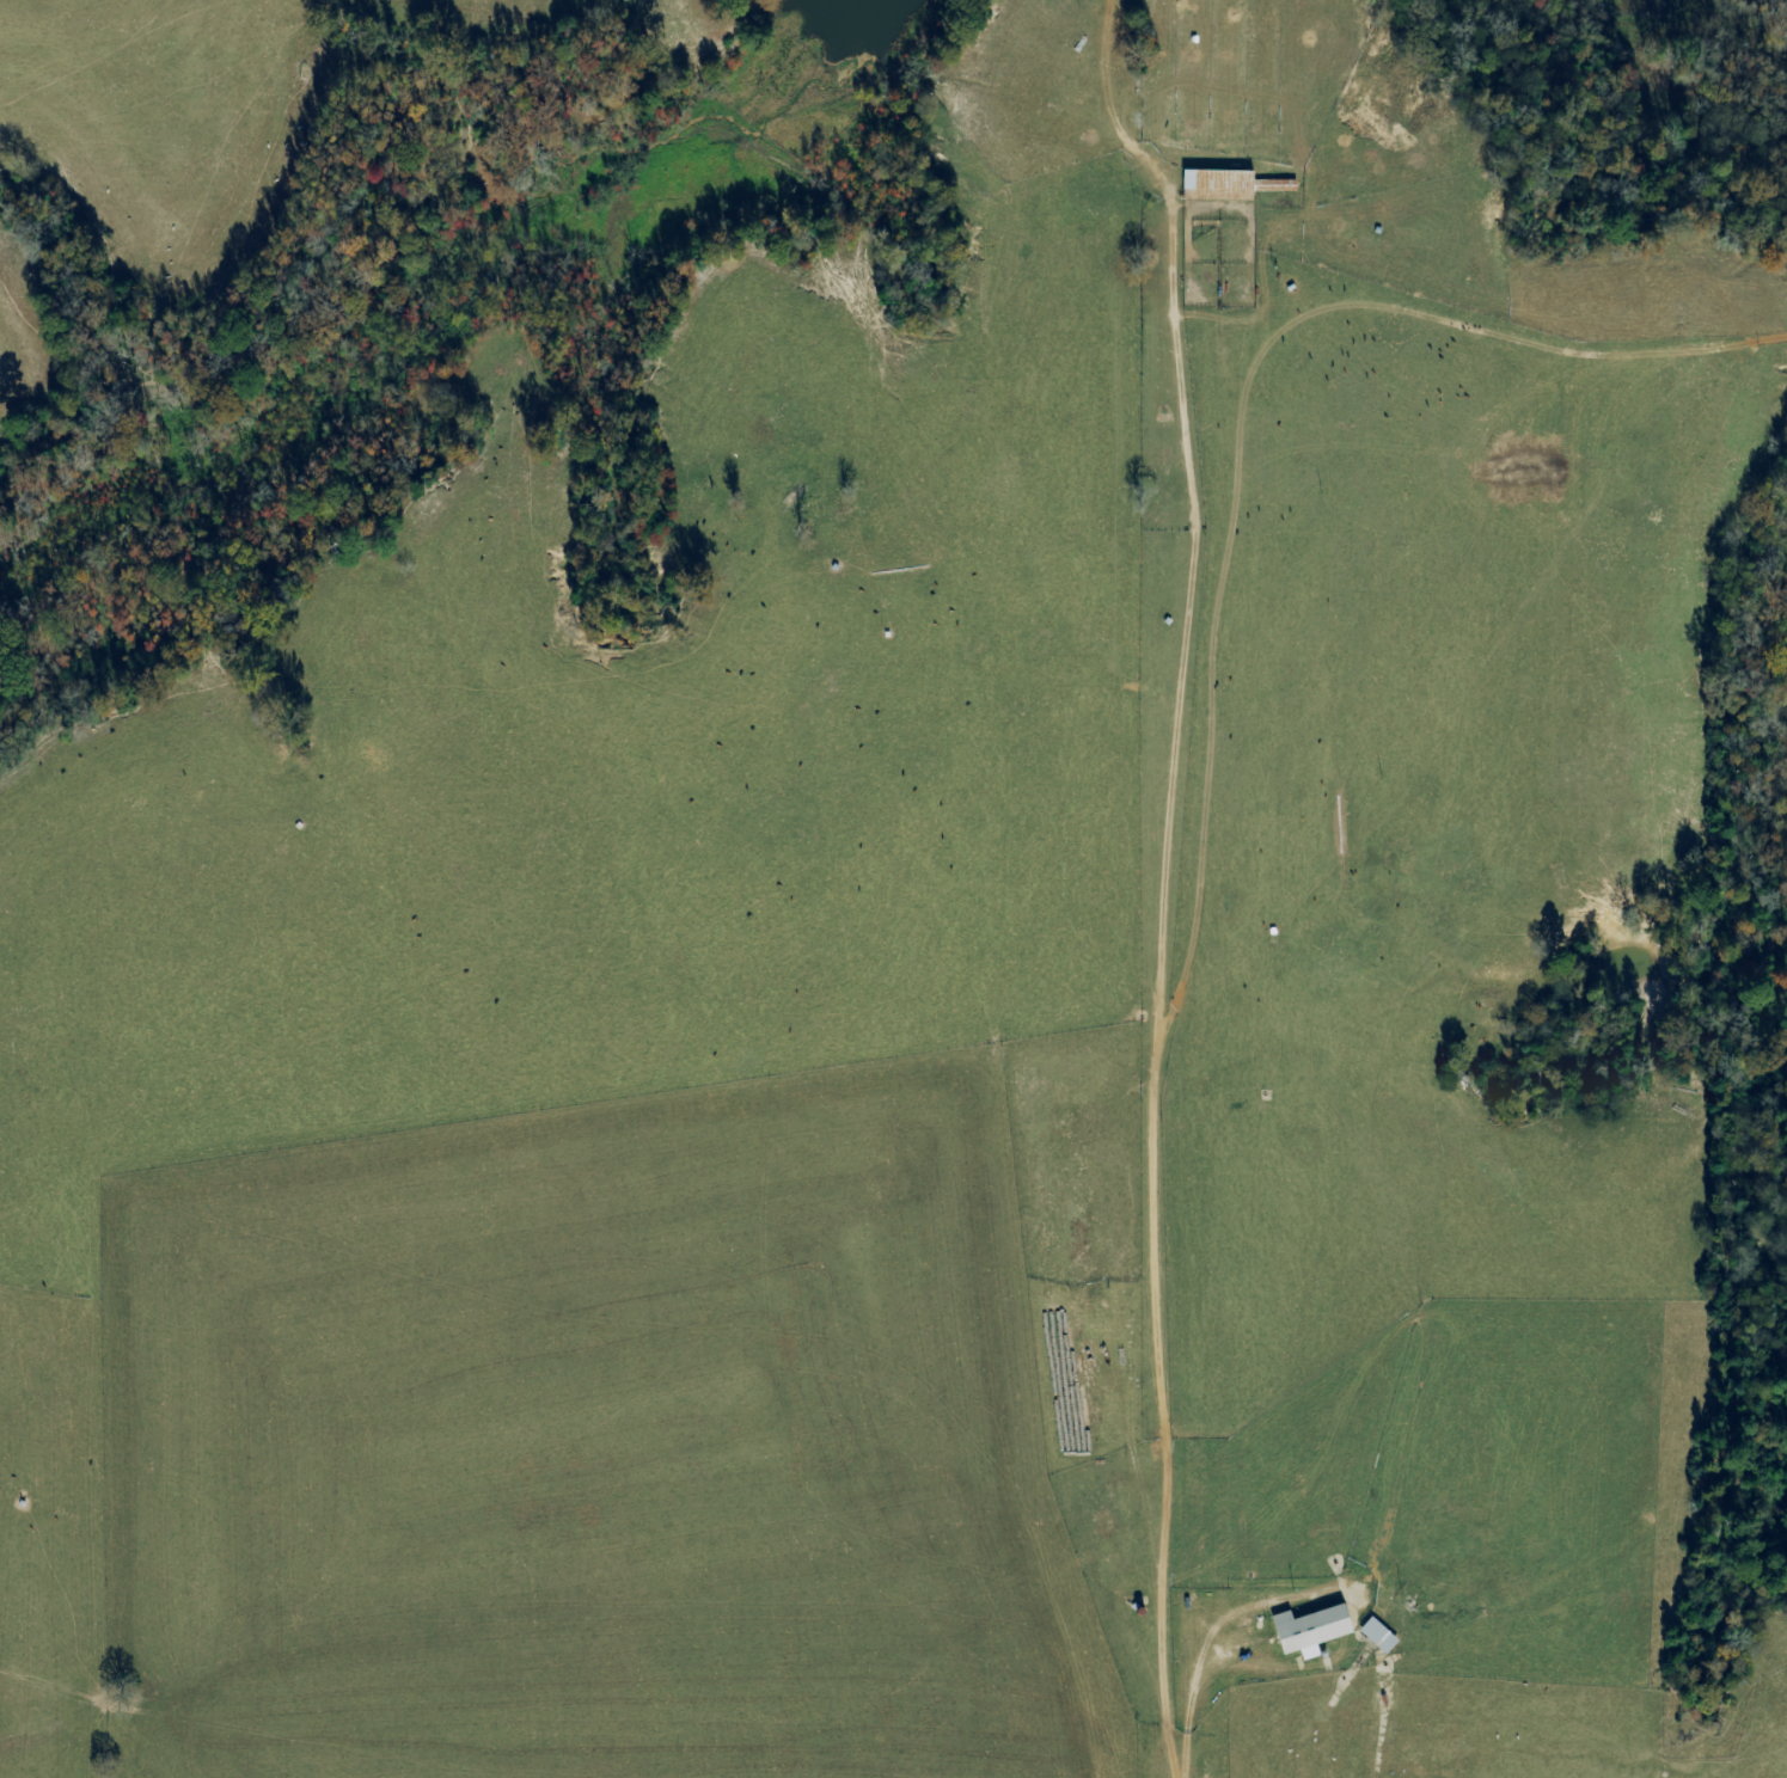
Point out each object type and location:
building: (1306, 1630)
building: (1376, 1636)

